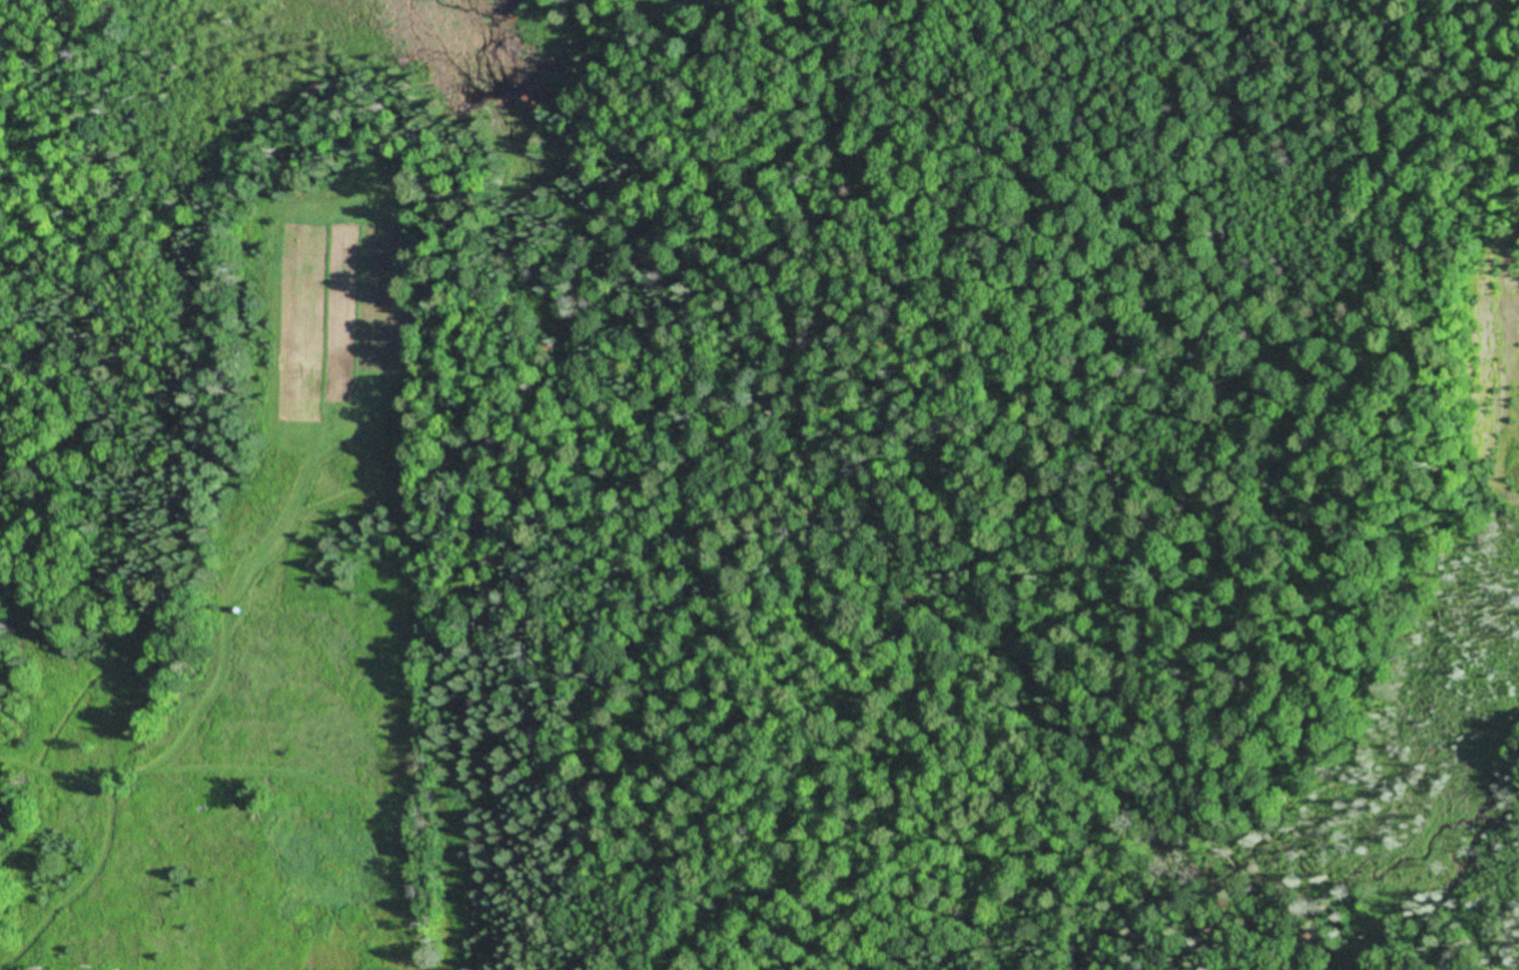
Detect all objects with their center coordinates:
building: (369, 959)

